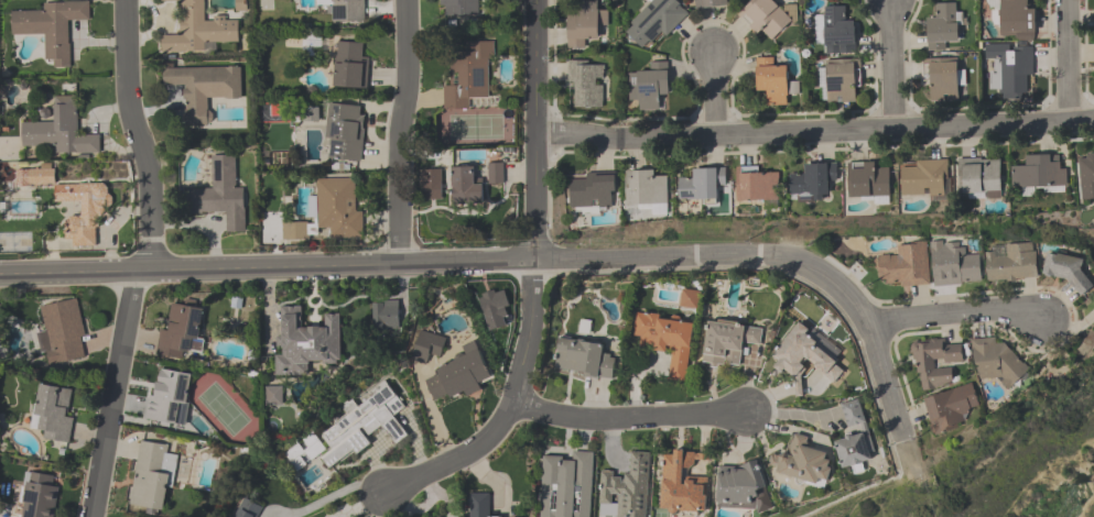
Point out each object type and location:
building: (711, 3)
building: (459, 8)
building: (347, 11)
building: (768, 18)
building: (1015, 19)
building: (656, 22)
building: (584, 25)
building: (52, 28)
building: (942, 29)
building: (197, 30)
building: (836, 33)
road: (1071, 63)
building: (350, 66)
road: (896, 66)
building: (1012, 71)
building: (470, 79)
building: (773, 81)
building: (840, 81)
building: (943, 81)
building: (586, 85)
building: (650, 86)
building: (203, 89)
road: (715, 95)
road: (539, 130)
building: (61, 131)
road: (401, 131)
building: (345, 132)
road: (816, 134)
road: (136, 137)
building: (1040, 174)
building: (495, 175)
building: (924, 178)
building: (979, 178)
building: (1086, 179)
building: (813, 182)
building: (868, 182)
building: (431, 185)
building: (702, 186)
building: (466, 187)
building: (646, 188)
building: (757, 188)
building: (593, 193)
building: (221, 196)
building: (73, 204)
building: (337, 209)
building: (295, 232)
road: (772, 253)
building: (1009, 261)
building: (953, 264)
building: (905, 265)
road: (267, 266)
building: (1066, 271)
building: (690, 299)
road: (958, 316)
building: (388, 317)
building: (178, 330)
building: (62, 332)
building: (667, 340)
building: (306, 342)
building: (728, 342)
building: (427, 345)
building: (804, 356)
building: (583, 359)
building: (997, 361)
building: (927, 364)
building: (459, 374)
road: (113, 394)
building: (169, 396)
building: (274, 398)
building: (951, 407)
road: (509, 409)
building: (53, 413)
road: (629, 419)
building: (364, 424)
building: (855, 437)
building: (304, 452)
building: (802, 462)
building: (149, 476)
building: (685, 482)
building: (740, 484)
building: (567, 485)
building: (626, 488)
building: (40, 495)
road: (335, 495)
building: (480, 506)
building: (248, 509)

